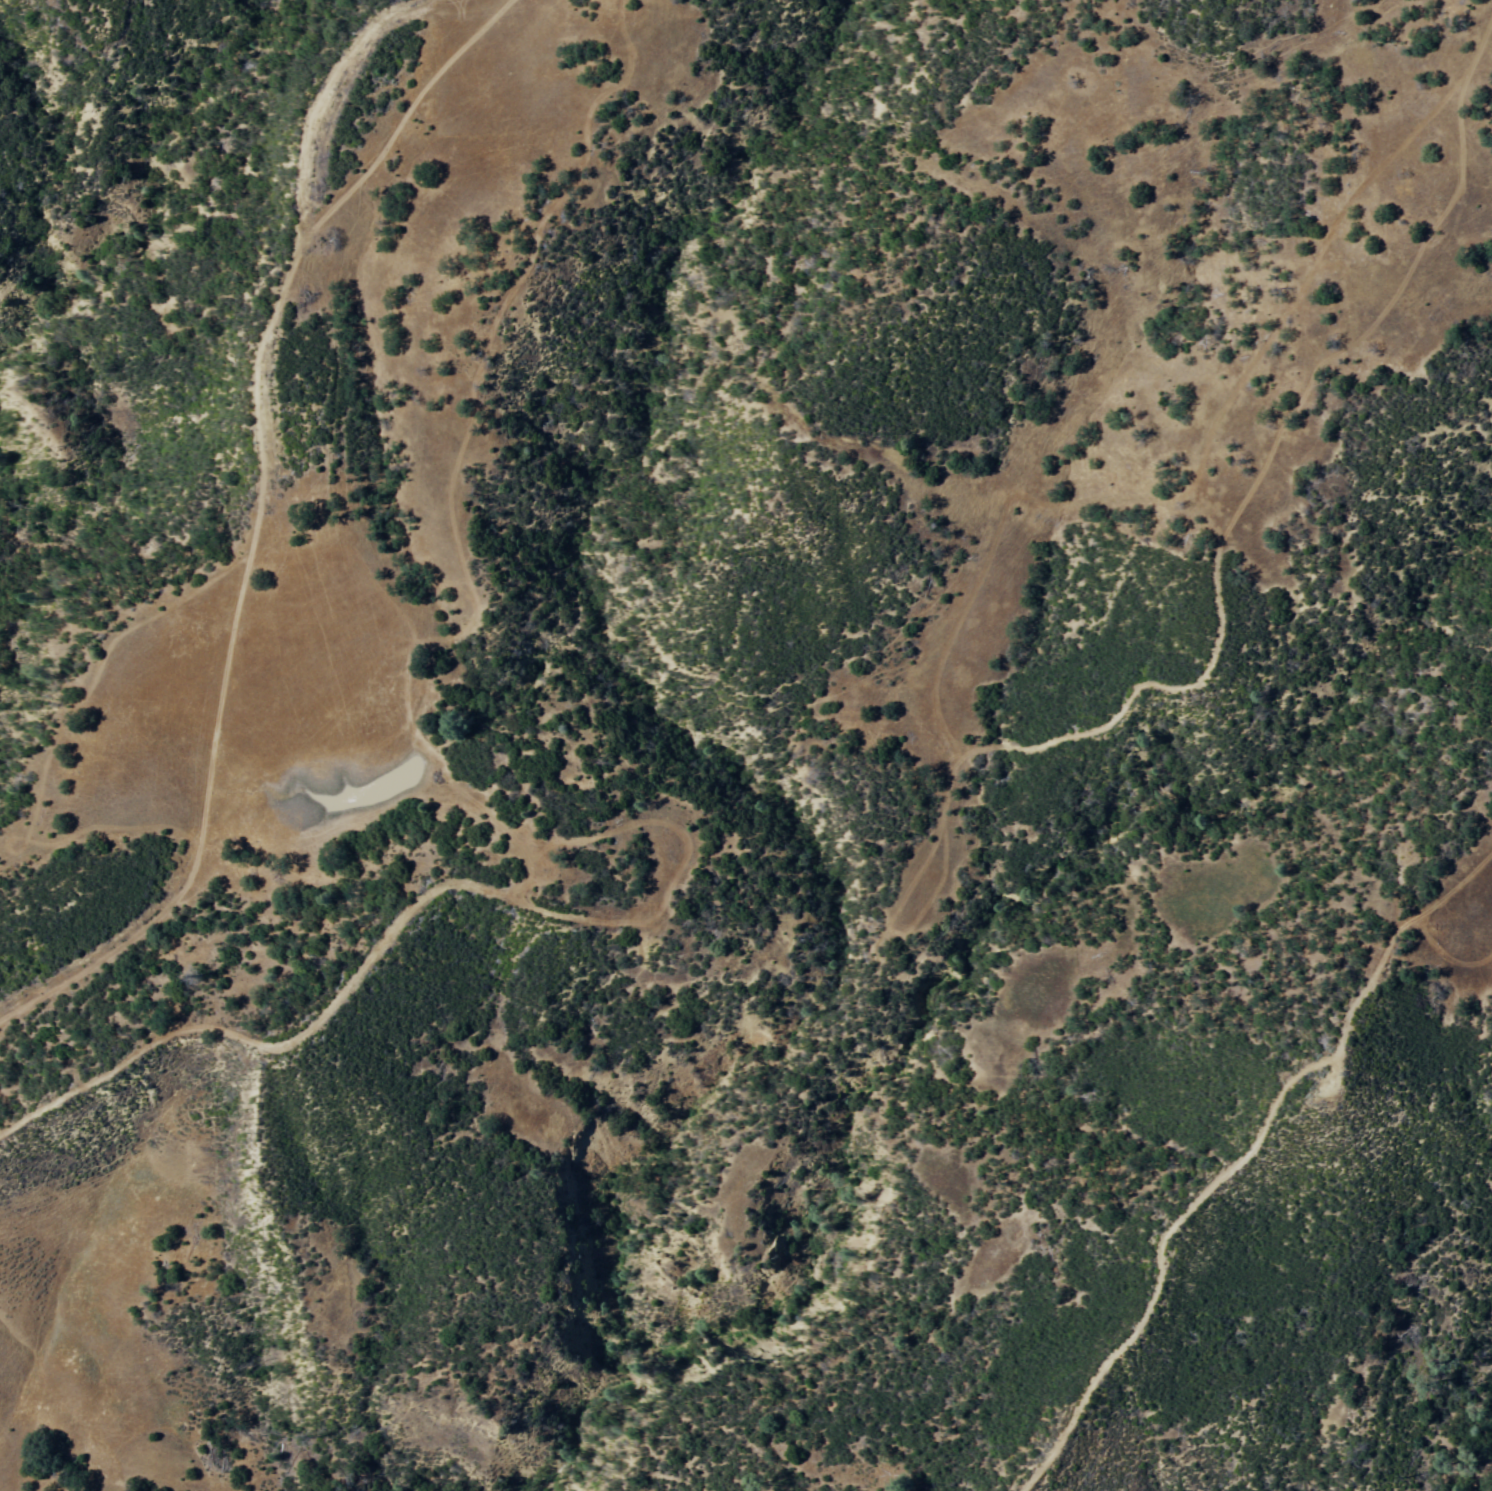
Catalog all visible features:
road: (251, 513)

